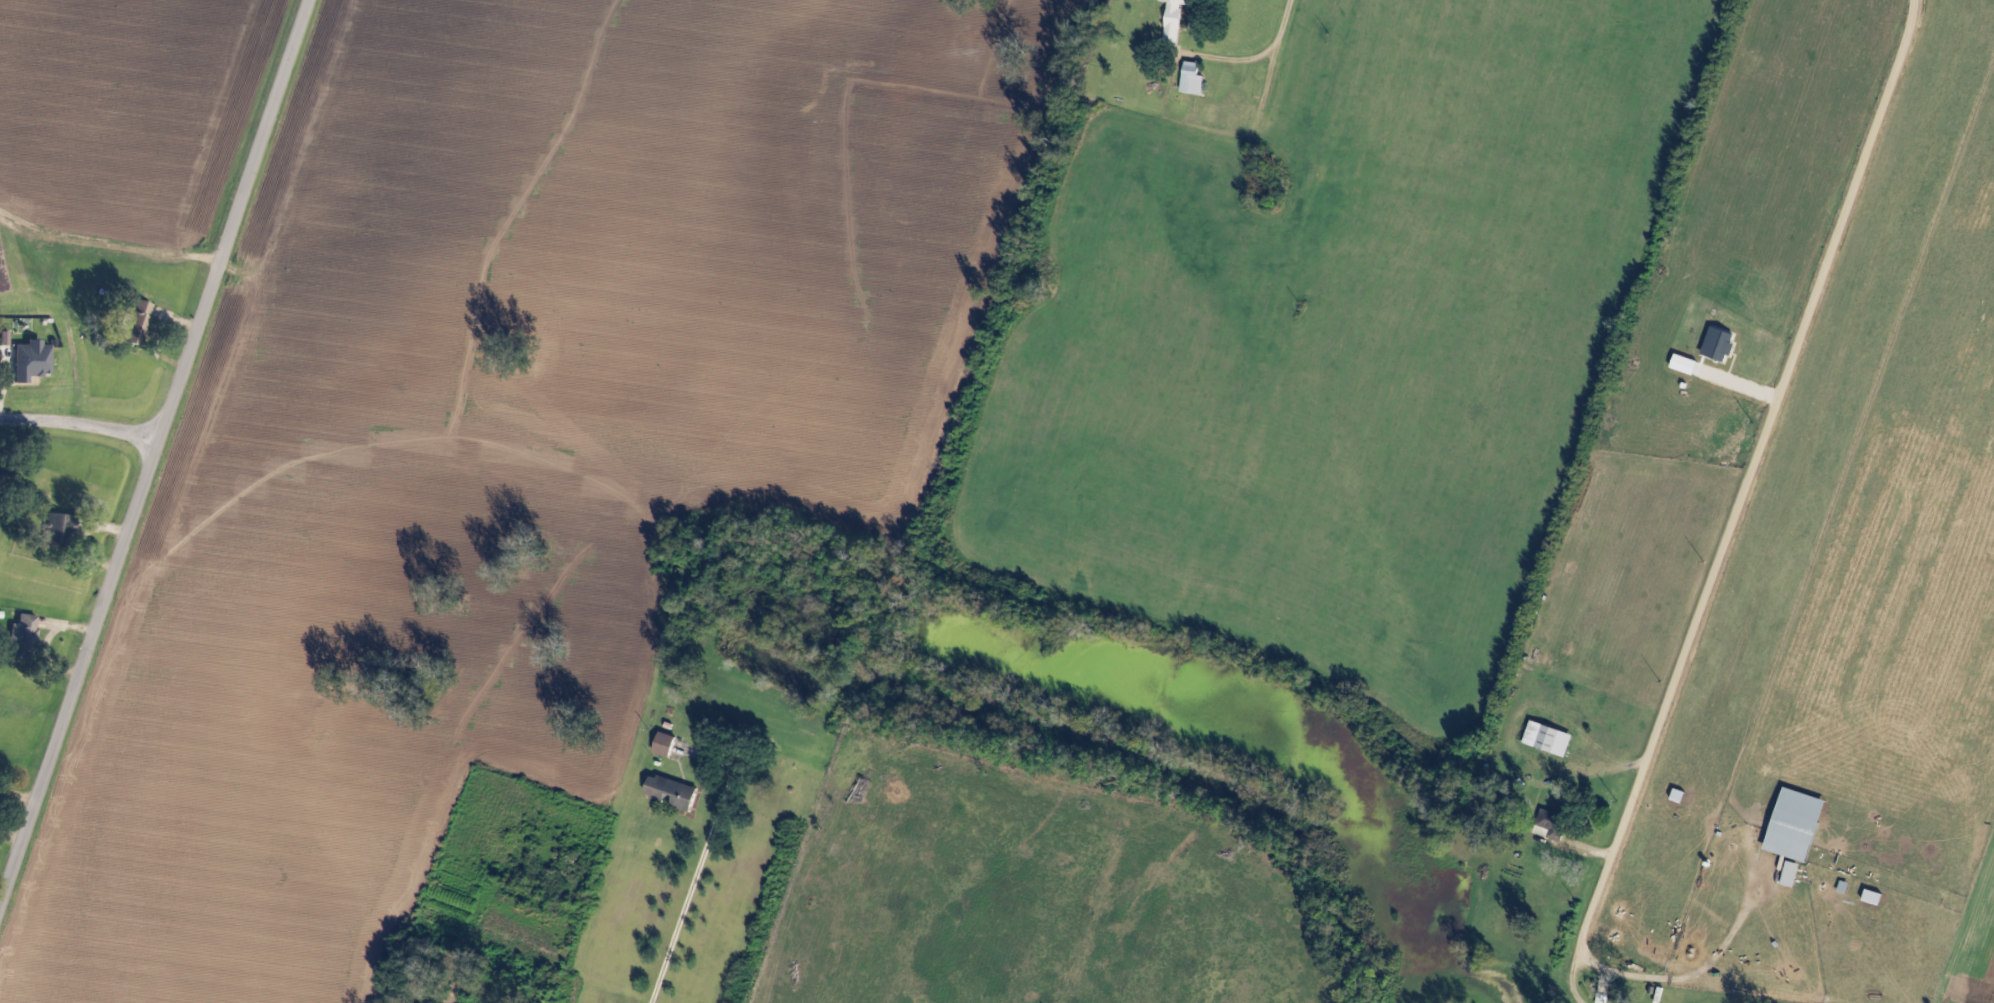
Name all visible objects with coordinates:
building: (1175, 20)
road: (1267, 54)
building: (1194, 80)
building: (136, 323)
building: (3, 340)
building: (1720, 345)
building: (31, 360)
road: (79, 422)
road: (153, 449)
road: (1742, 502)
building: (57, 530)
building: (24, 631)
building: (1549, 739)
building: (666, 745)
building: (672, 793)
building: (1552, 826)
building: (1796, 826)
building: (1792, 875)
road: (693, 889)

